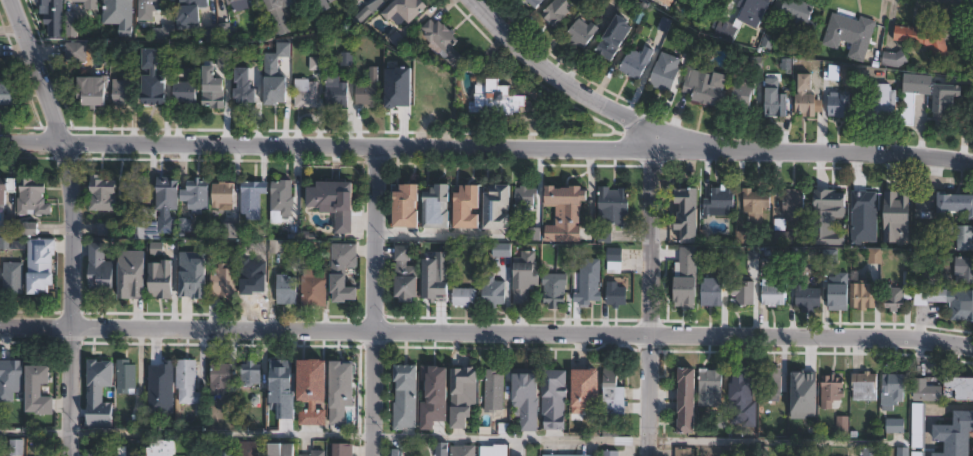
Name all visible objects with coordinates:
building: (84, 1)
building: (234, 1)
building: (658, 1)
building: (720, 1)
building: (533, 2)
building: (48, 3)
building: (118, 4)
building: (320, 4)
building: (405, 8)
building: (152, 10)
building: (558, 10)
building: (368, 11)
building: (281, 13)
building: (192, 14)
building: (743, 16)
building: (798, 18)
building: (65, 26)
building: (217, 30)
building: (163, 31)
building: (581, 32)
building: (850, 34)
building: (441, 36)
building: (927, 42)
building: (609, 43)
building: (0, 49)
building: (76, 51)
building: (346, 58)
building: (894, 58)
building: (636, 61)
building: (665, 72)
building: (834, 74)
building: (154, 80)
building: (219, 85)
road: (575, 85)
building: (704, 85)
building: (189, 86)
building: (91, 89)
building: (122, 89)
building: (247, 89)
building: (368, 90)
building: (5, 91)
building: (335, 91)
building: (277, 92)
building: (743, 92)
building: (305, 93)
building: (914, 93)
building: (431, 95)
building: (805, 96)
building: (495, 98)
building: (952, 101)
building: (880, 103)
building: (779, 104)
building: (840, 106)
road: (486, 144)
building: (5, 187)
building: (102, 194)
building: (195, 195)
building: (525, 195)
building: (31, 197)
building: (331, 197)
building: (222, 198)
building: (252, 198)
building: (281, 200)
building: (955, 202)
building: (719, 203)
building: (756, 203)
building: (848, 203)
building: (571, 204)
building: (405, 206)
building: (436, 206)
building: (613, 206)
building: (466, 207)
building: (494, 208)
building: (791, 208)
building: (926, 208)
building: (161, 212)
building: (895, 213)
building: (684, 214)
road: (72, 220)
building: (28, 228)
building: (103, 230)
building: (229, 230)
building: (534, 234)
building: (960, 234)
building: (605, 235)
building: (822, 237)
building: (783, 238)
building: (276, 247)
building: (157, 249)
building: (501, 251)
building: (799, 255)
building: (876, 256)
building: (614, 260)
building: (40, 265)
building: (963, 269)
building: (99, 270)
building: (343, 270)
building: (192, 272)
building: (135, 274)
building: (405, 276)
building: (12, 277)
building: (523, 277)
building: (932, 278)
building: (160, 279)
building: (223, 281)
building: (250, 284)
building: (681, 287)
building: (315, 288)
building: (285, 289)
building: (554, 289)
building: (492, 292)
building: (711, 293)
building: (774, 293)
building: (615, 294)
building: (743, 294)
building: (584, 295)
building: (863, 296)
building: (807, 297)
building: (898, 298)
road: (371, 299)
building: (461, 300)
road: (651, 300)
building: (948, 301)
road: (486, 332)
building: (250, 374)
building: (155, 375)
building: (7, 377)
building: (125, 377)
building: (280, 377)
building: (220, 378)
building: (311, 379)
building: (186, 382)
building: (772, 385)
building: (742, 386)
building: (711, 387)
building: (865, 387)
building: (802, 388)
building: (960, 388)
building: (37, 389)
building: (893, 389)
building: (493, 390)
building: (830, 390)
building: (926, 390)
building: (463, 391)
building: (400, 392)
building: (98, 393)
building: (579, 394)
building: (433, 397)
building: (684, 397)
building: (522, 398)
building: (550, 400)
building: (613, 403)
building: (289, 417)
building: (784, 418)
building: (813, 420)
building: (916, 425)
building: (896, 426)
building: (842, 427)
road: (184, 433)
building: (952, 434)
road: (510, 437)
building: (15, 447)
building: (340, 448)
building: (161, 449)
building: (250, 449)
building: (441, 449)
building: (462, 449)
building: (280, 450)
building: (395, 451)
building: (225, 452)
building: (683, 452)
building: (867, 452)
building: (316, 453)
building: (610, 453)
building: (95, 454)
building: (501, 454)
building: (915, 454)
building: (560, 455)

